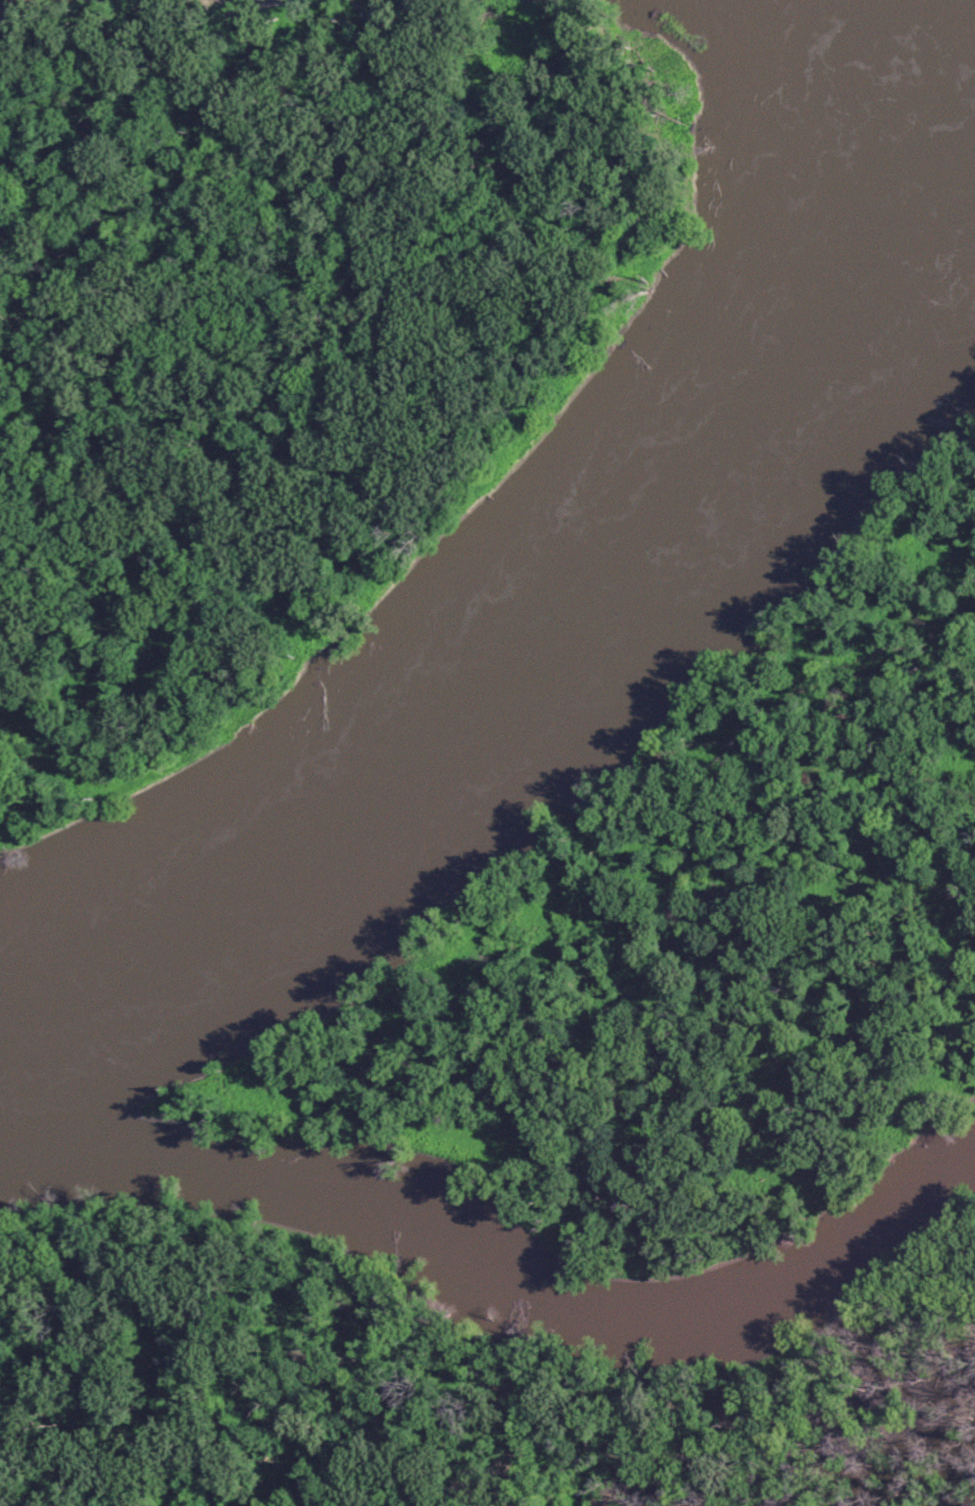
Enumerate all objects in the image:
road: (921, 1500)

